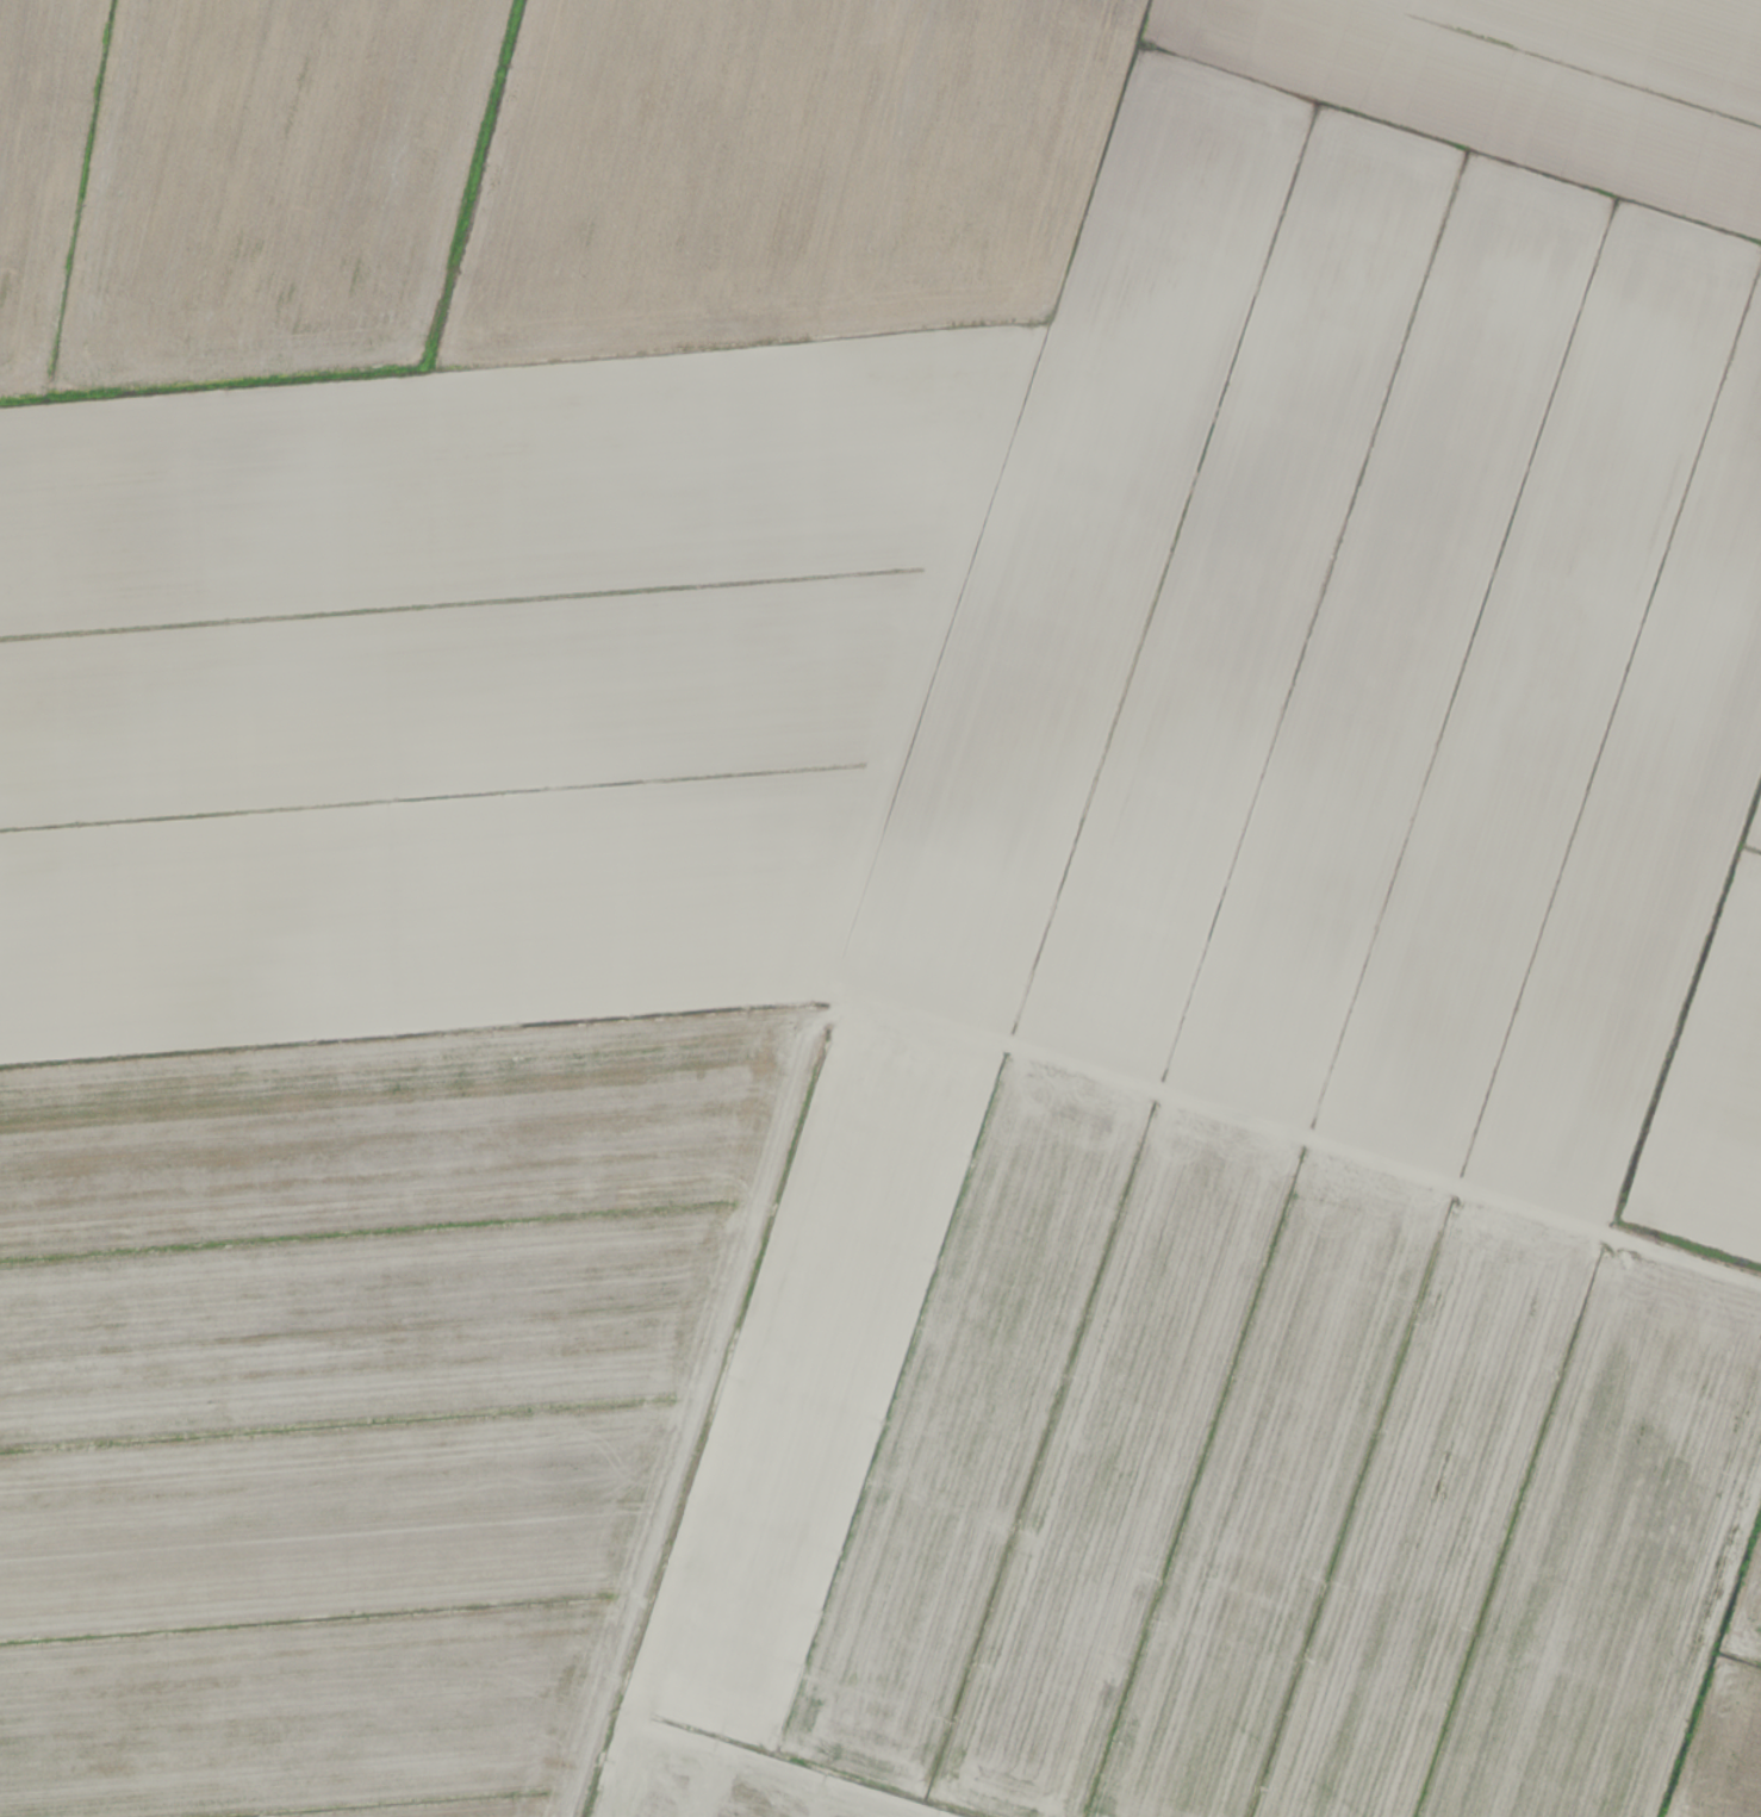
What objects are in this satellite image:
building: (1415, 809)

